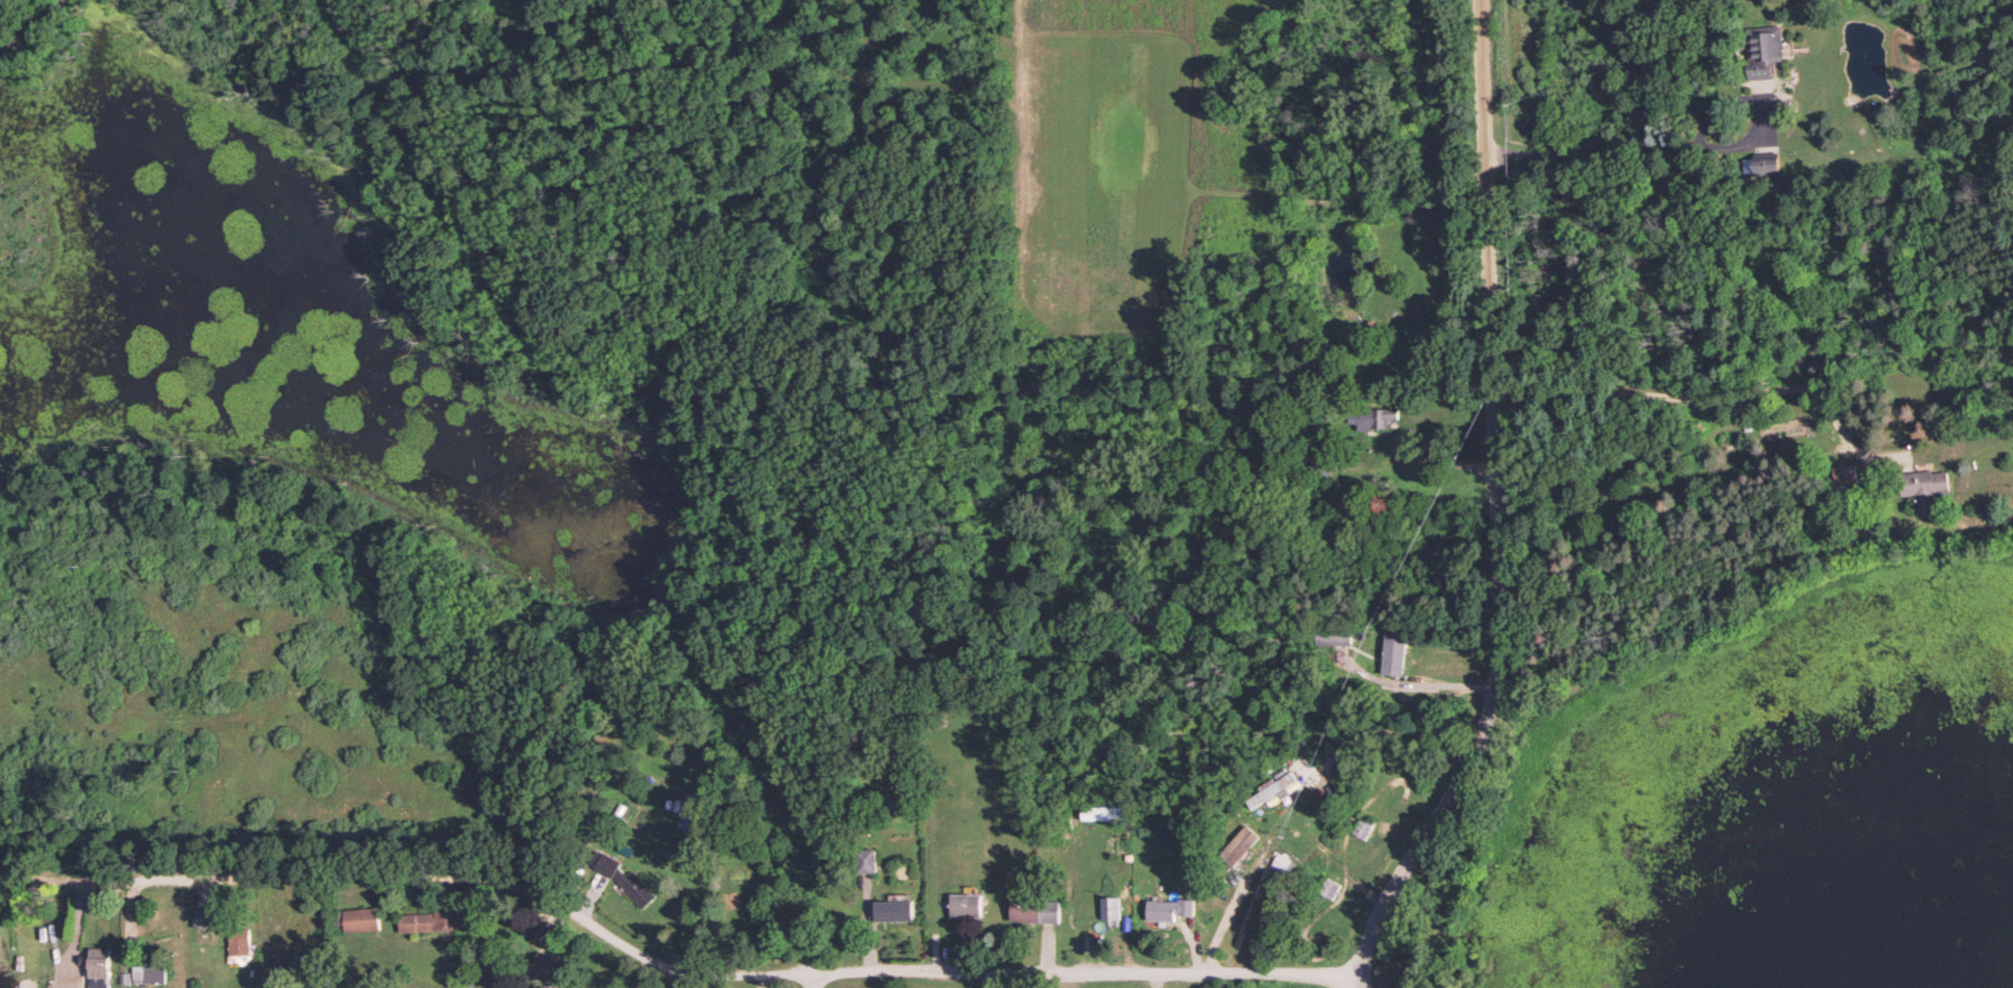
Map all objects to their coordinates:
road: (40, 19)
road: (10, 47)
building: (1763, 51)
road: (1683, 149)
building: (1766, 162)
road: (1482, 194)
road: (1709, 398)
building: (1373, 418)
building: (1844, 475)
building: (1925, 488)
building: (1333, 637)
building: (1394, 652)
road: (1484, 704)
building: (1274, 789)
road: (1296, 794)
building: (1099, 812)
building: (689, 815)
building: (1363, 825)
building: (1239, 844)
building: (866, 860)
building: (1281, 861)
building: (626, 881)
building: (1328, 887)
building: (965, 905)
building: (1025, 907)
building: (1110, 907)
building: (894, 908)
building: (1169, 909)
building: (202, 918)
building: (361, 919)
building: (429, 919)
building: (239, 942)
building: (99, 967)
building: (551, 969)
road: (703, 972)
building: (149, 973)
road: (808, 979)

